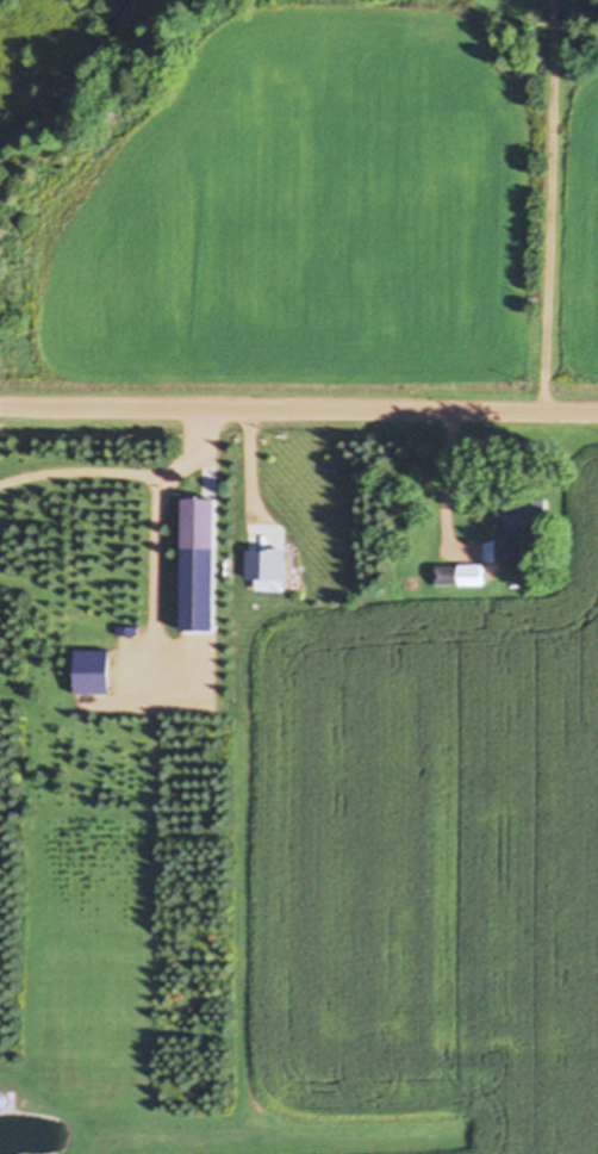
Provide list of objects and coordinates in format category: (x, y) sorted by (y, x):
road: (299, 407)
building: (203, 522)
building: (521, 526)
building: (461, 573)

